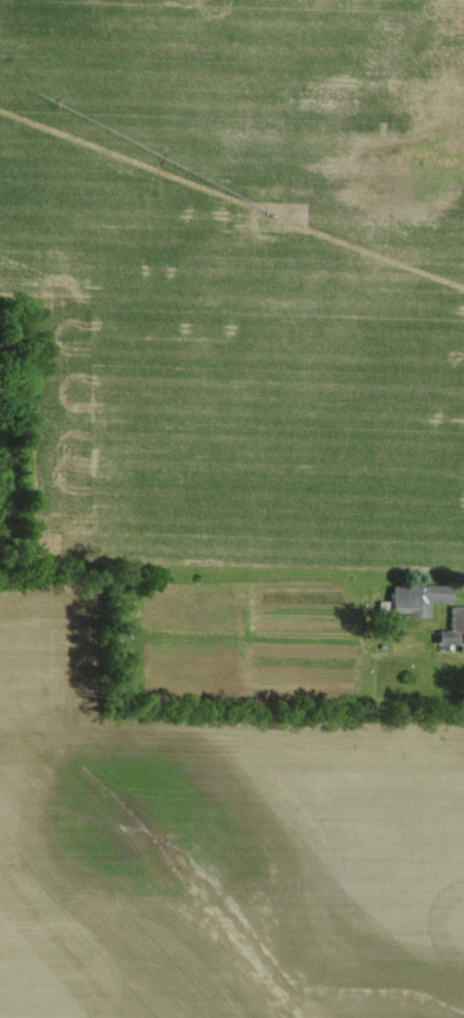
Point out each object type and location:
building: (411, 599)
building: (452, 629)

